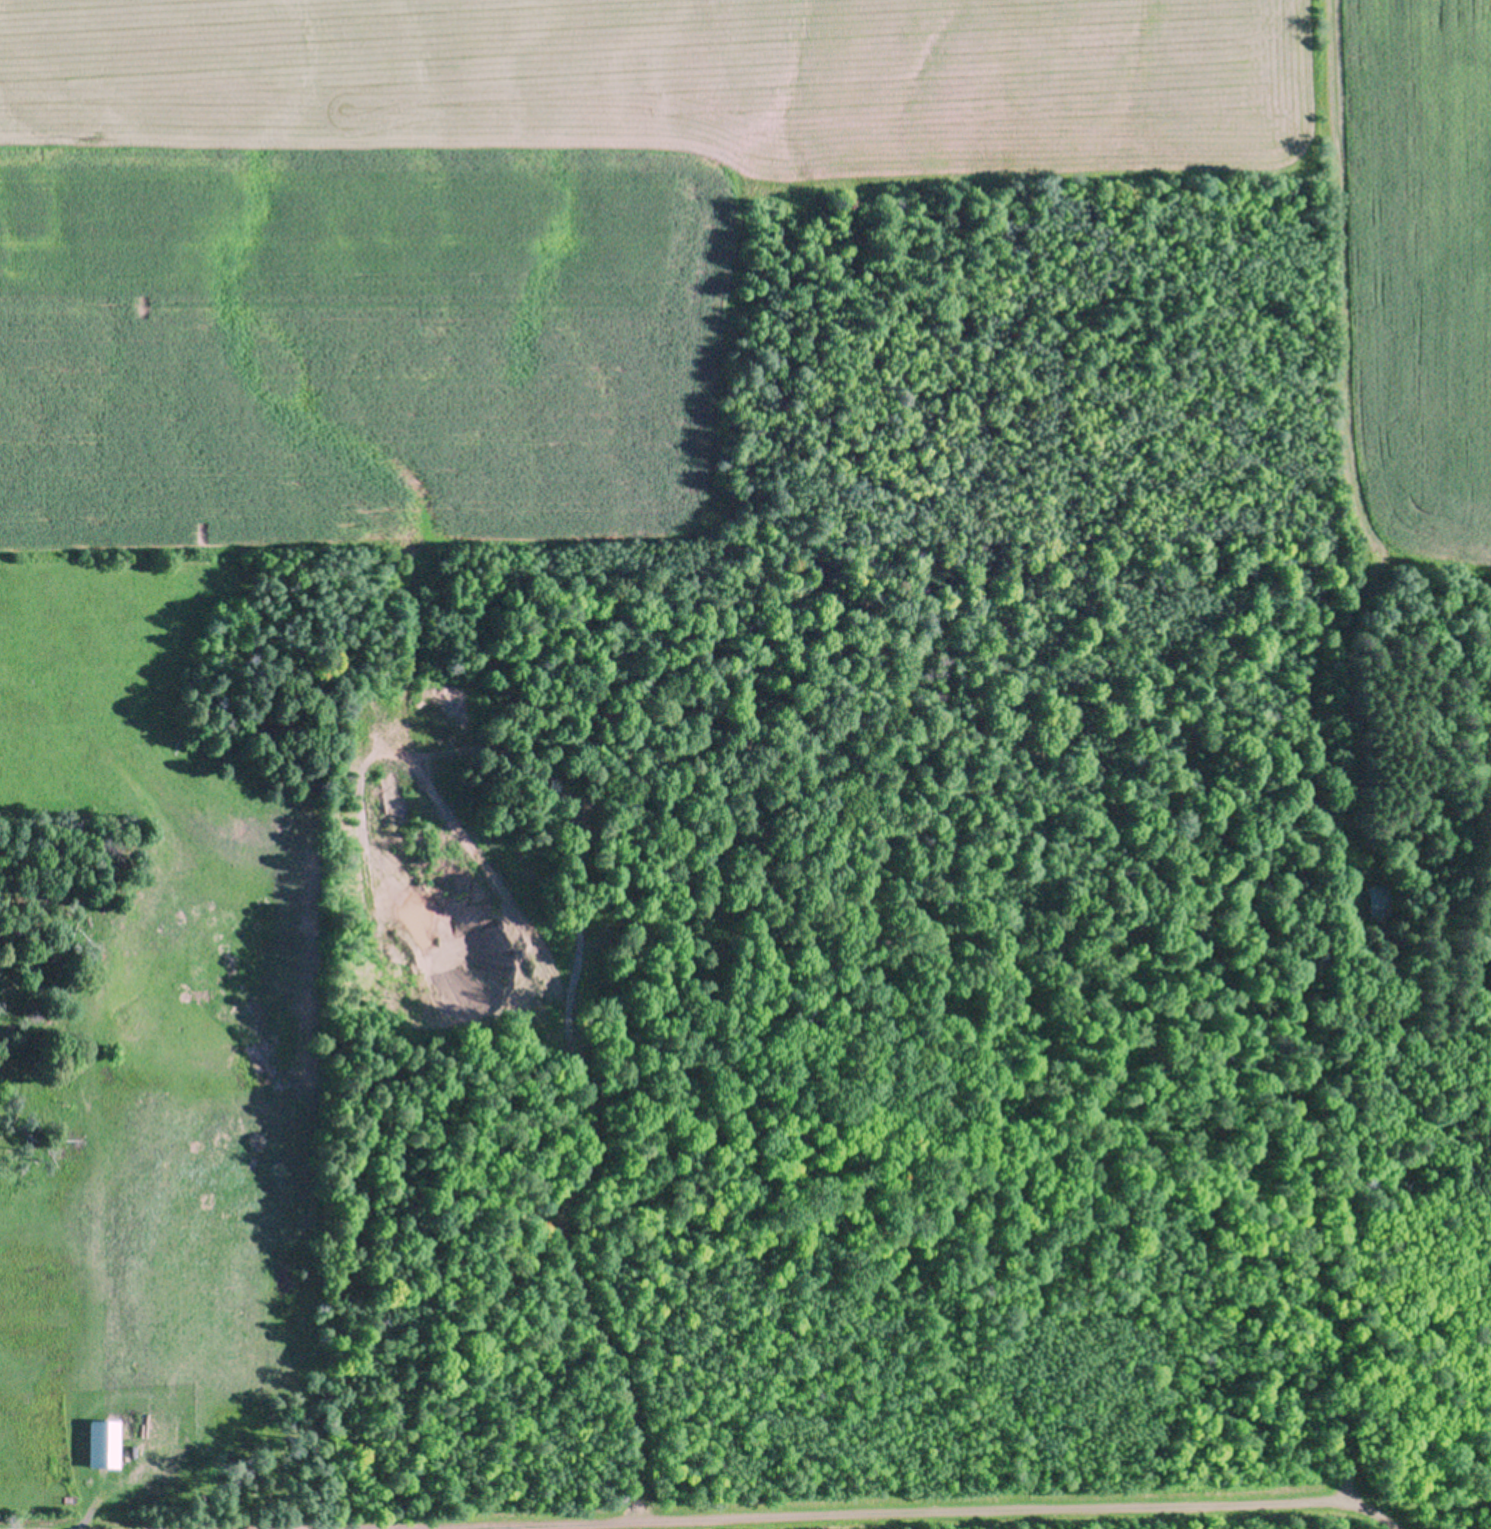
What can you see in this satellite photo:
crop: (504, 484)
building: (1415, 859)
building: (1378, 899)
road: (1333, 1203)
road: (862, 1517)
road: (1372, 1517)

